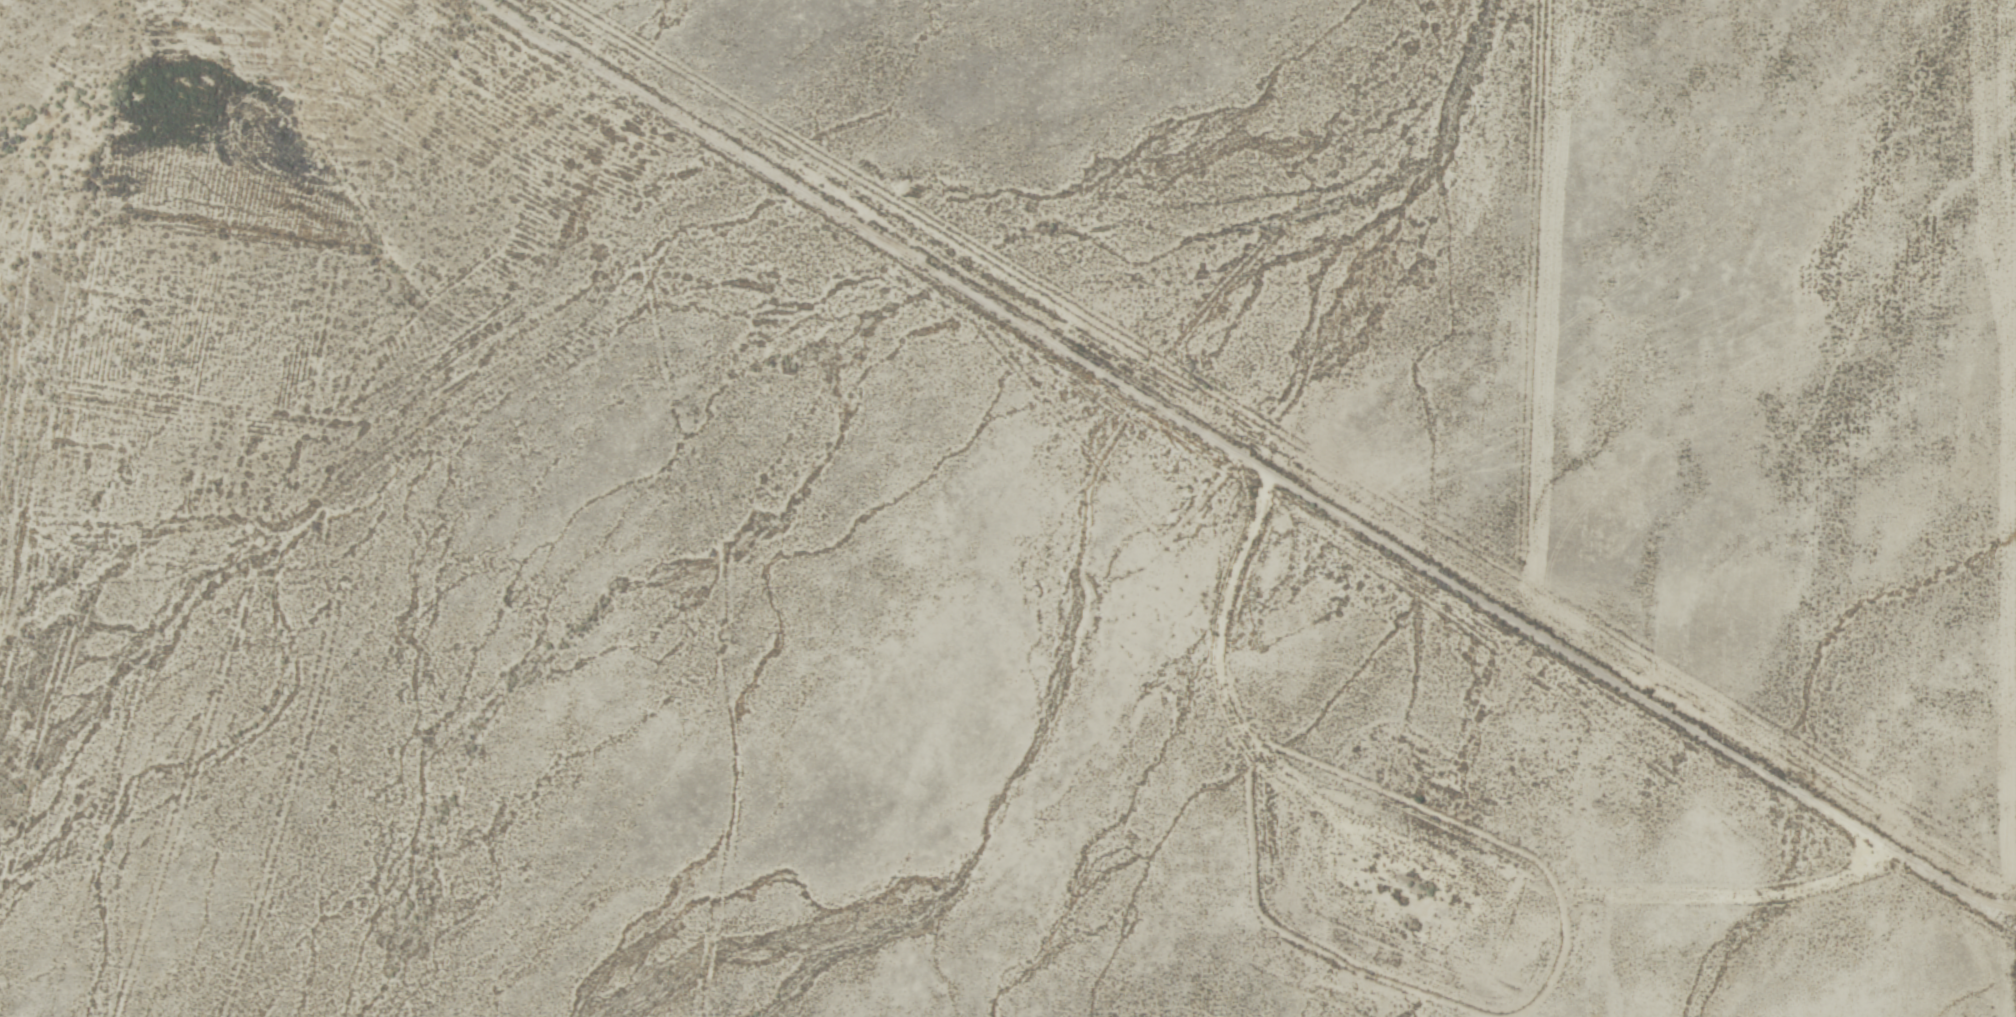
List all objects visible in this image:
road: (1249, 455)

